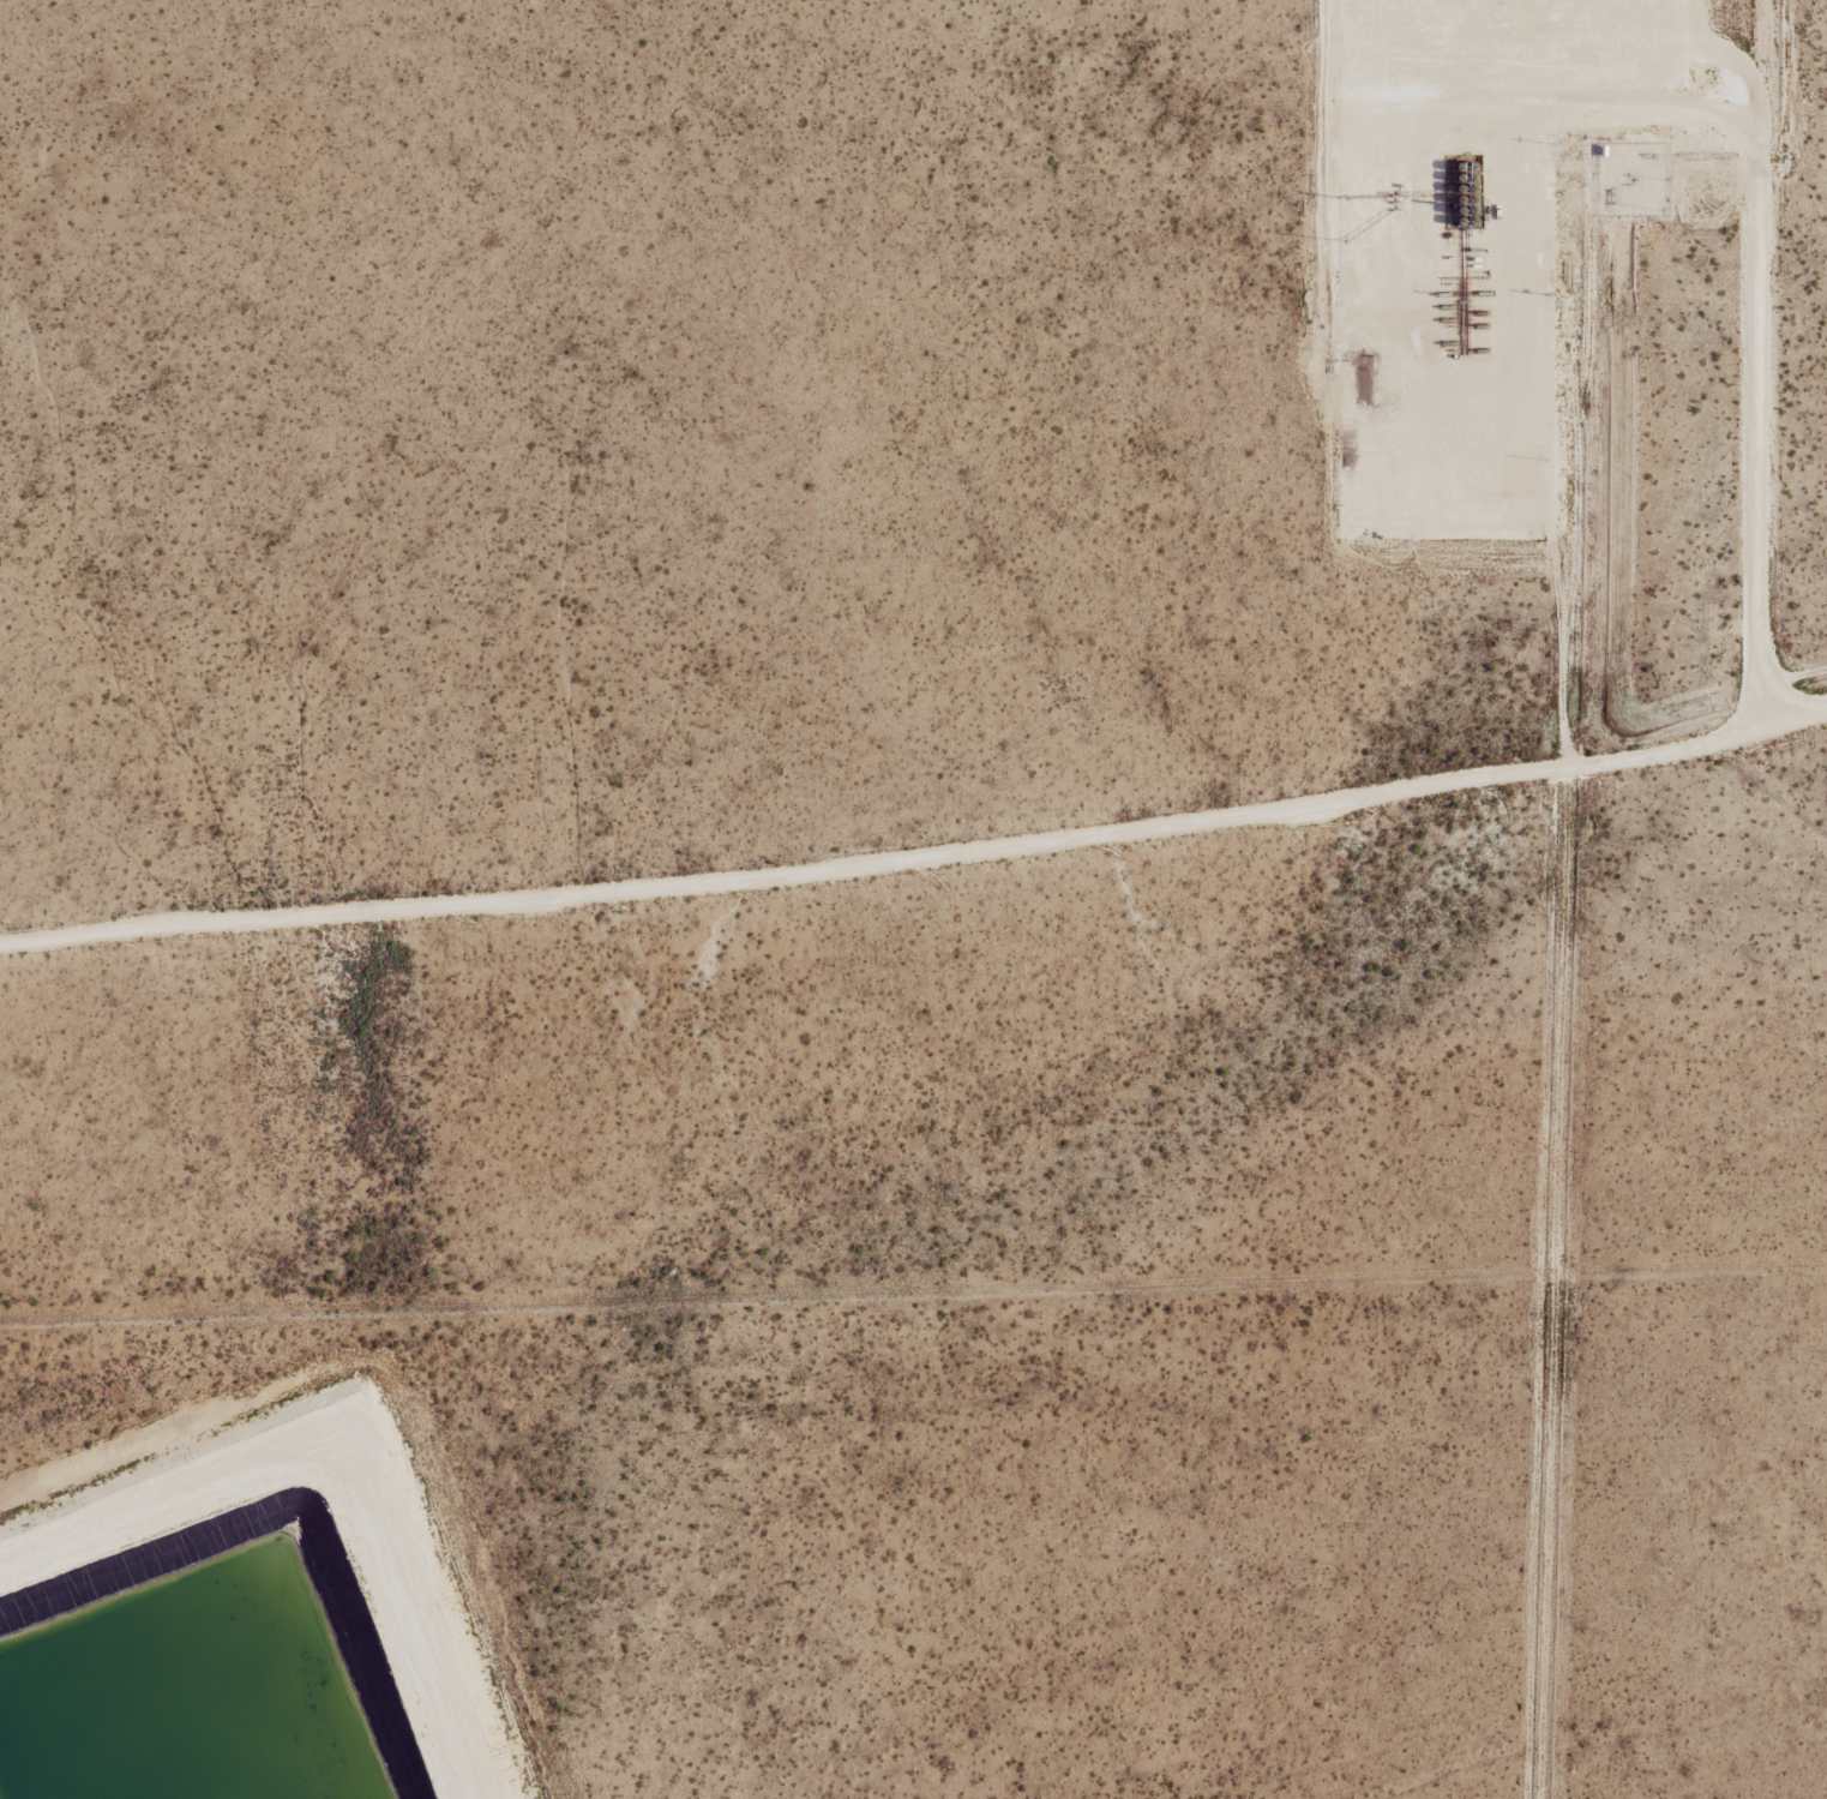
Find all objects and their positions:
road: (1713, 32)
road: (1407, 286)
road: (1751, 395)
road: (918, 856)
road: (461, 1734)

